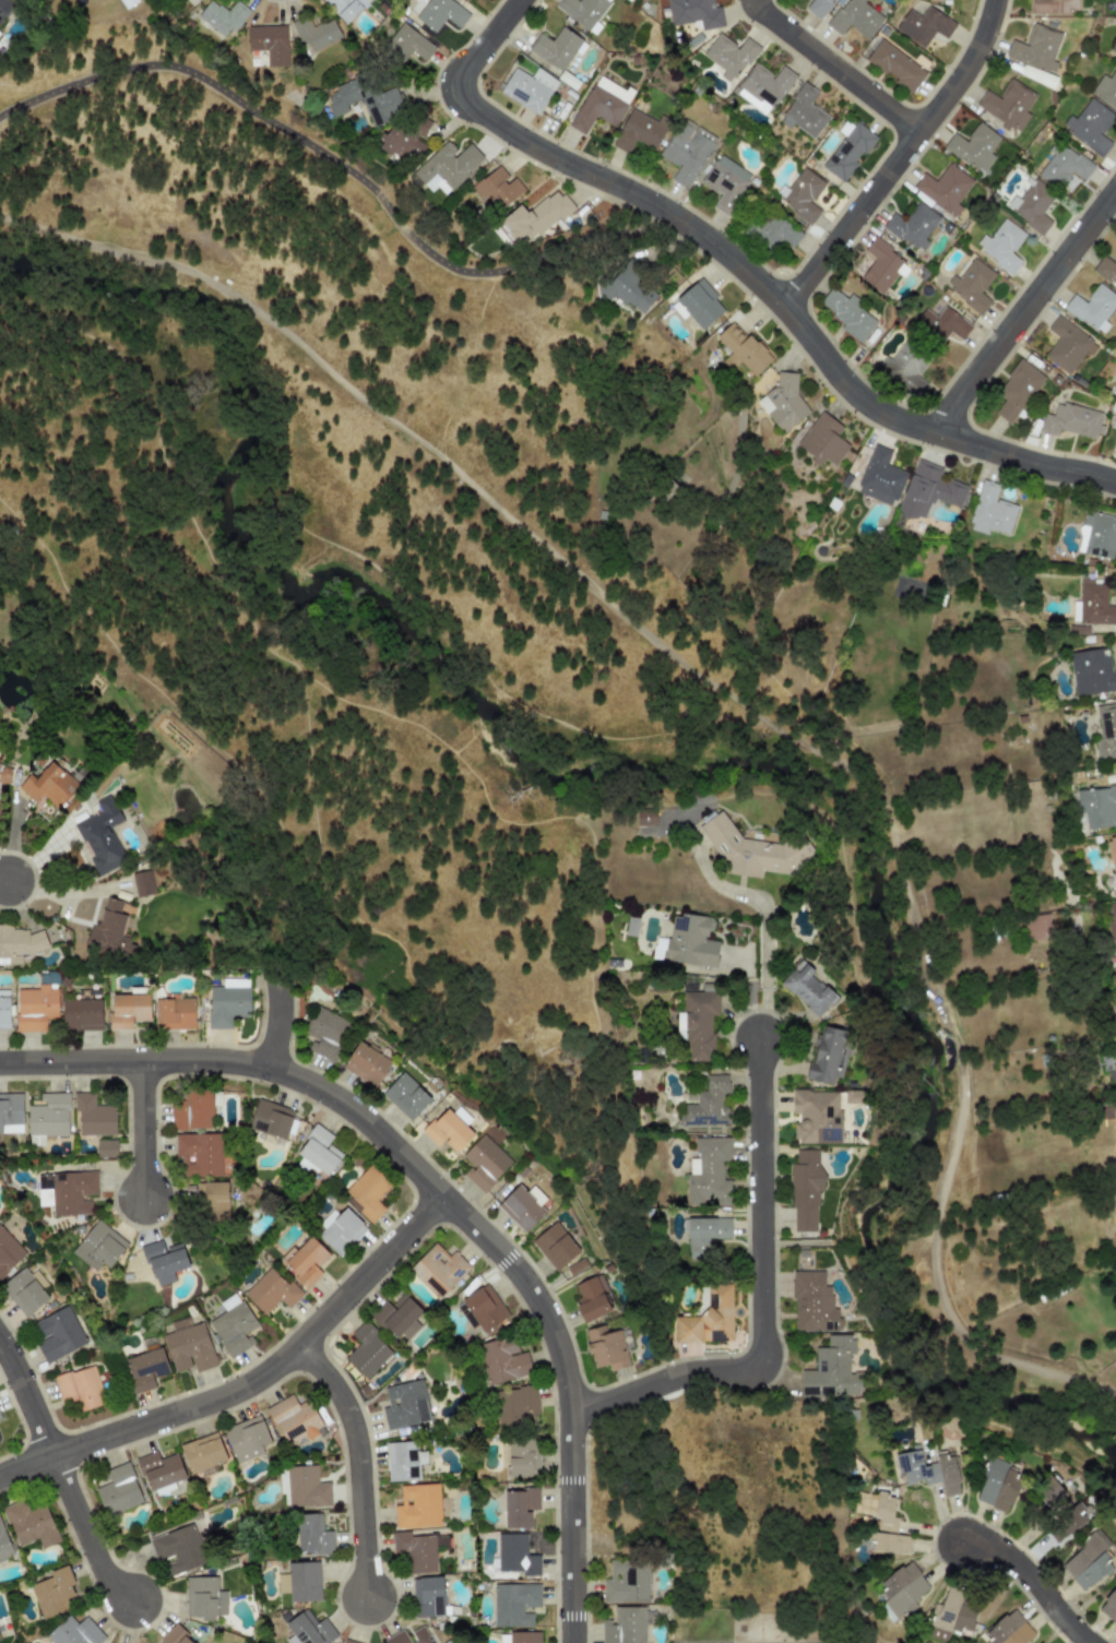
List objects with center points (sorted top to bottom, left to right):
building: (191, 2)
building: (1053, 5)
building: (1114, 5)
building: (4, 7)
building: (817, 7)
building: (346, 8)
building: (582, 11)
building: (437, 13)
building: (693, 13)
building: (223, 17)
building: (855, 17)
building: (924, 25)
building: (314, 33)
building: (270, 43)
building: (407, 44)
building: (556, 47)
building: (1114, 47)
road: (480, 48)
building: (1035, 48)
building: (728, 55)
building: (895, 66)
road: (835, 68)
building: (763, 86)
building: (529, 88)
building: (1106, 88)
building: (367, 100)
building: (1007, 104)
building: (601, 105)
building: (803, 112)
building: (1090, 126)
building: (638, 132)
building: (401, 145)
building: (973, 146)
building: (847, 150)
building: (686, 151)
road: (899, 157)
road: (343, 167)
building: (448, 167)
building: (1064, 167)
building: (725, 182)
building: (943, 188)
building: (497, 189)
building: (802, 193)
building: (1032, 206)
building: (535, 217)
building: (912, 226)
building: (772, 229)
building: (1001, 245)
building: (881, 266)
building: (1105, 270)
building: (971, 285)
building: (625, 289)
building: (699, 303)
building: (1093, 307)
road: (788, 308)
road: (1030, 308)
building: (847, 313)
building: (941, 323)
building: (1067, 345)
building: (741, 348)
building: (904, 367)
building: (1017, 390)
building: (783, 403)
building: (1070, 420)
building: (822, 440)
building: (1113, 443)
building: (880, 477)
building: (928, 490)
building: (990, 511)
road: (507, 515)
building: (1096, 535)
building: (1094, 604)
building: (1092, 671)
building: (1106, 730)
road: (586, 733)
building: (49, 785)
building: (1096, 806)
building: (645, 817)
building: (100, 836)
building: (752, 849)
building: (1113, 858)
road: (5, 877)
building: (141, 883)
building: (1112, 921)
road: (764, 925)
building: (631, 927)
building: (1036, 927)
building: (109, 931)
building: (689, 942)
building: (19, 943)
building: (806, 988)
road: (593, 992)
building: (227, 1002)
building: (35, 1008)
building: (4, 1009)
building: (128, 1010)
building: (81, 1014)
building: (174, 1014)
road: (282, 1020)
building: (698, 1023)
building: (324, 1033)
building: (827, 1057)
building: (366, 1063)
building: (405, 1096)
building: (707, 1104)
building: (191, 1110)
building: (10, 1112)
building: (93, 1116)
building: (816, 1116)
building: (47, 1117)
building: (271, 1119)
road: (145, 1130)
building: (448, 1131)
building: (105, 1148)
building: (319, 1151)
building: (198, 1154)
building: (708, 1172)
building: (805, 1189)
building: (66, 1192)
building: (366, 1193)
road: (442, 1198)
building: (214, 1200)
road: (608, 1200)
building: (522, 1206)
building: (340, 1230)
building: (704, 1234)
building: (555, 1246)
building: (98, 1247)
building: (8, 1252)
building: (164, 1261)
building: (304, 1261)
building: (575, 1266)
building: (438, 1270)
building: (271, 1290)
building: (23, 1291)
building: (592, 1298)
road: (764, 1301)
building: (811, 1302)
building: (484, 1308)
building: (465, 1315)
building: (399, 1317)
building: (708, 1318)
building: (179, 1323)
building: (233, 1325)
building: (57, 1334)
building: (189, 1348)
building: (606, 1348)
building: (367, 1350)
building: (501, 1360)
road: (1030, 1366)
building: (145, 1369)
building: (831, 1369)
road: (251, 1385)
building: (79, 1388)
road: (28, 1396)
building: (404, 1405)
building: (514, 1405)
building: (0, 1417)
building: (294, 1418)
building: (246, 1439)
building: (202, 1453)
building: (522, 1457)
building: (402, 1461)
road: (363, 1465)
building: (915, 1468)
building: (159, 1469)
building: (948, 1474)
building: (997, 1485)
building: (306, 1487)
building: (118, 1490)
building: (1053, 1491)
building: (417, 1507)
building: (518, 1508)
building: (1068, 1522)
building: (882, 1523)
building: (29, 1524)
road: (91, 1534)
building: (311, 1534)
building: (4, 1545)
building: (178, 1549)
building: (416, 1551)
building: (514, 1555)
building: (1088, 1562)
building: (626, 1581)
road: (1034, 1581)
building: (300, 1582)
building: (901, 1588)
building: (427, 1596)
building: (203, 1598)
building: (513, 1604)
building: (1109, 1607)
building: (951, 1616)
building: (624, 1626)
building: (309, 1629)
building: (1008, 1630)
building: (73, 1632)
building: (174, 1635)
building: (409, 1636)
building: (523, 1636)
building: (503, 1639)
building: (348, 1641)

